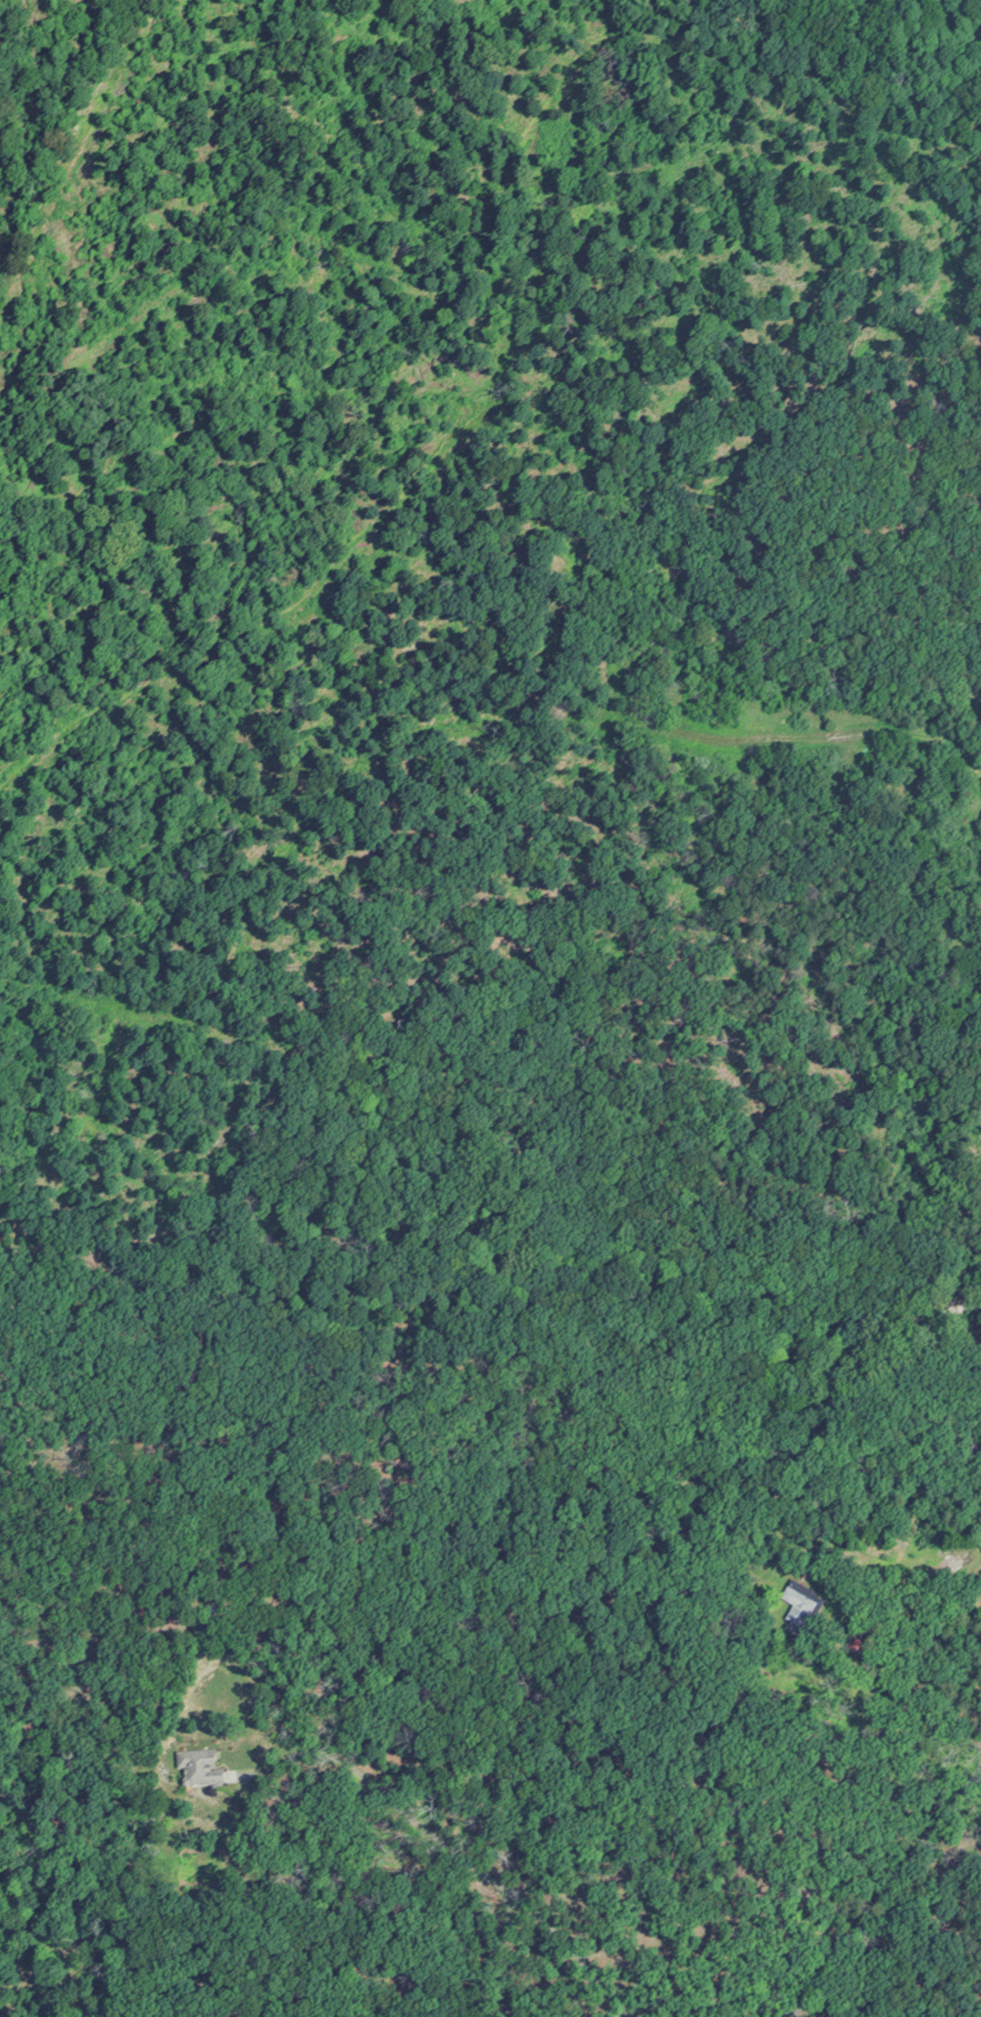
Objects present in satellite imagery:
road: (885, 1892)

